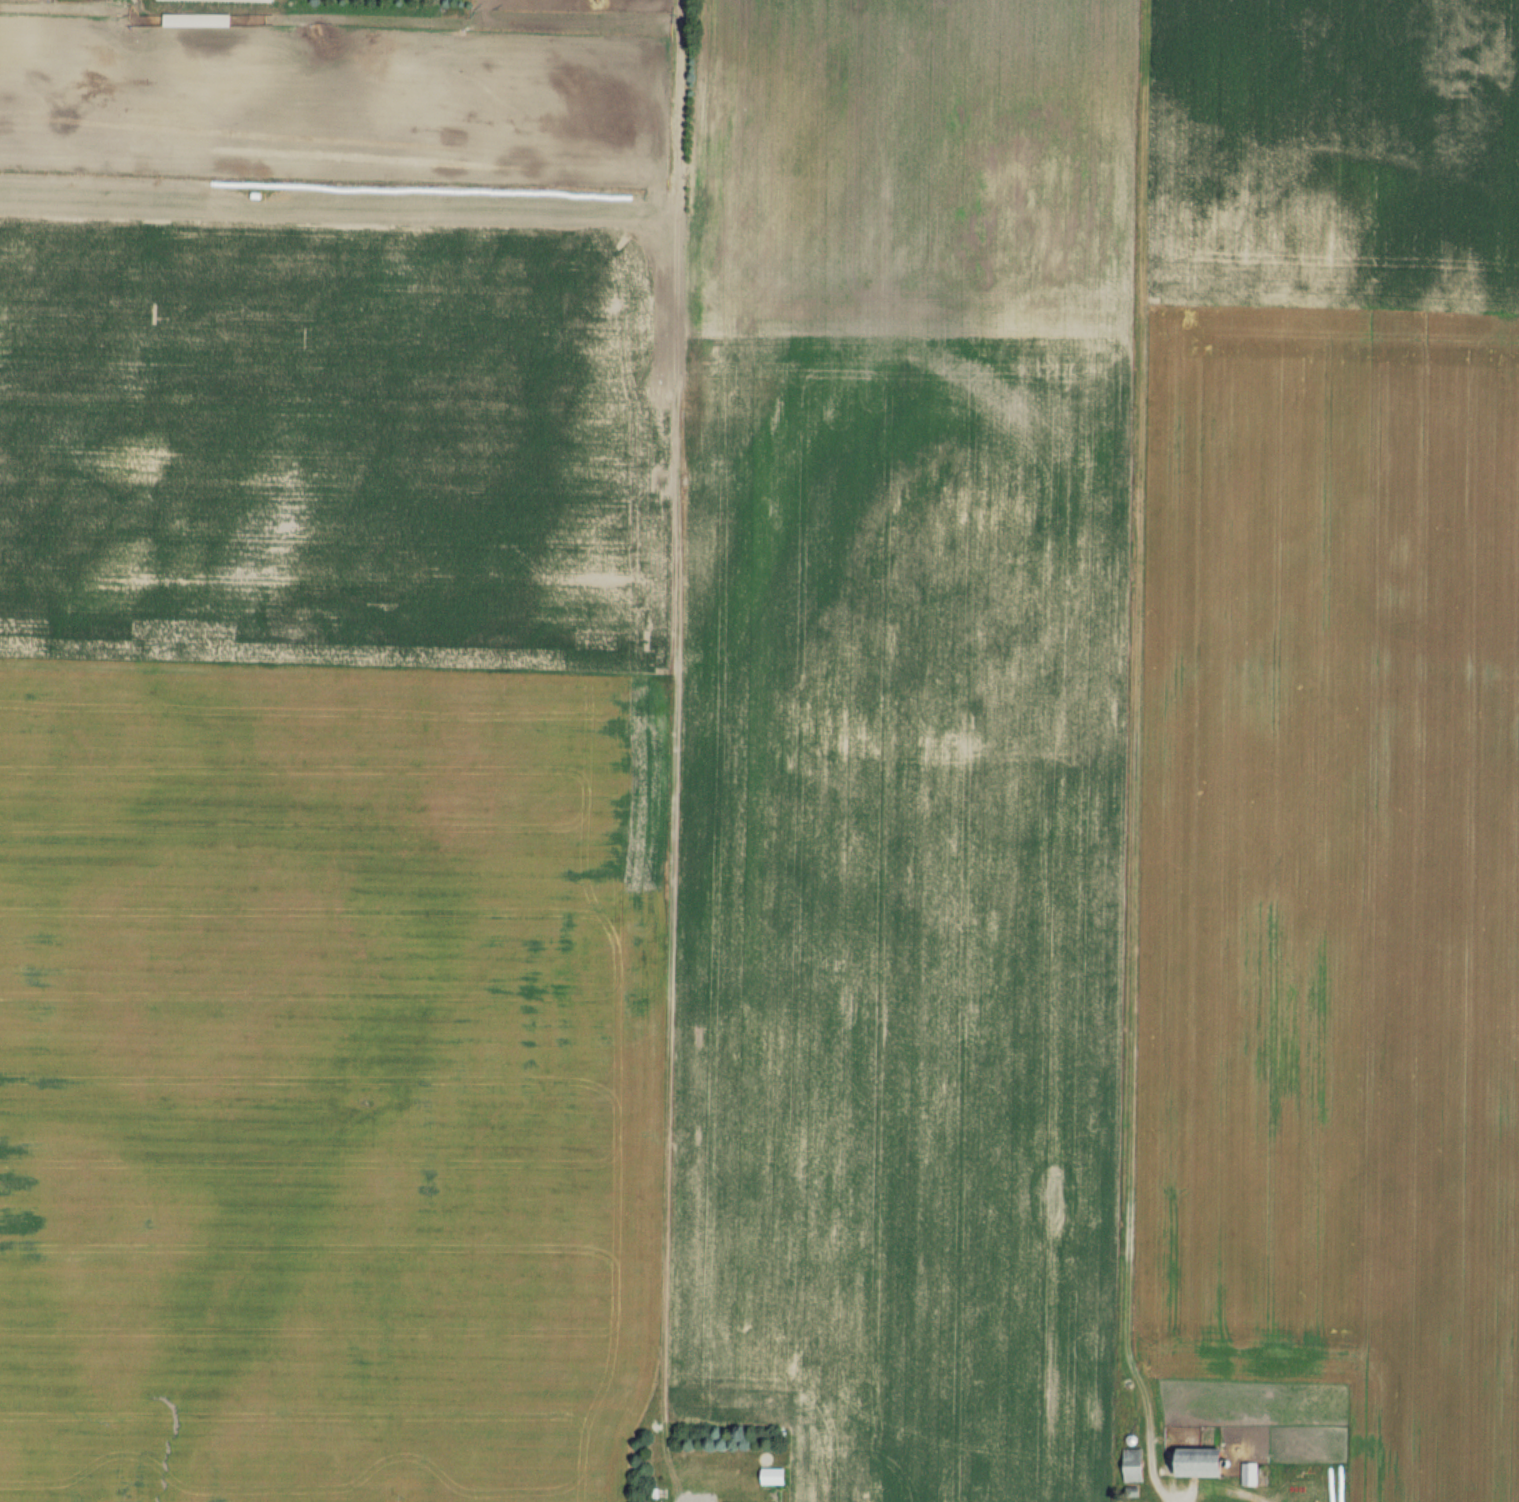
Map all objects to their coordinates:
building: (1207, 1461)
building: (1135, 1464)
building: (1251, 1473)
building: (776, 1475)
road: (1184, 1500)

